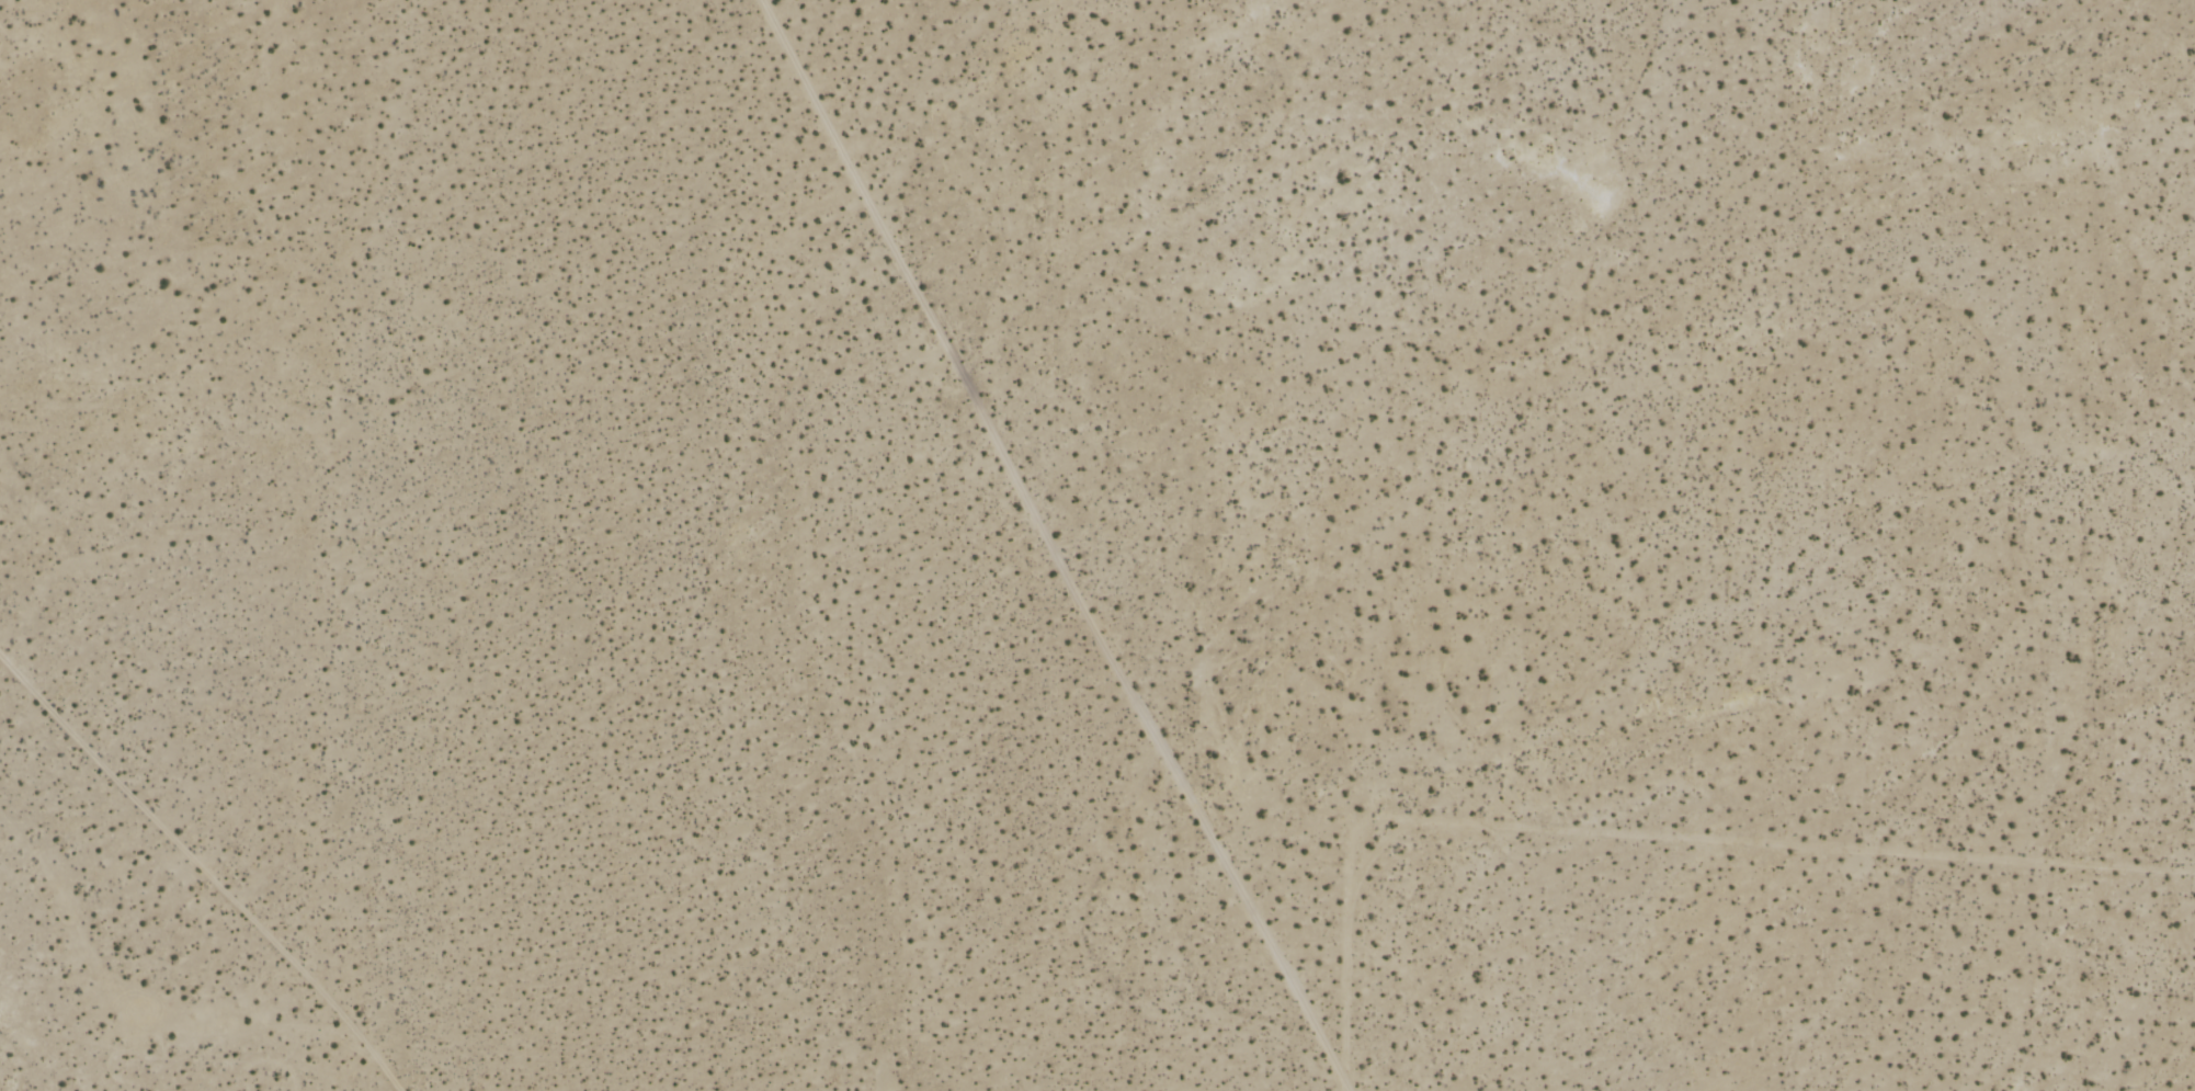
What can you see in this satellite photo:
road: (214, 877)

